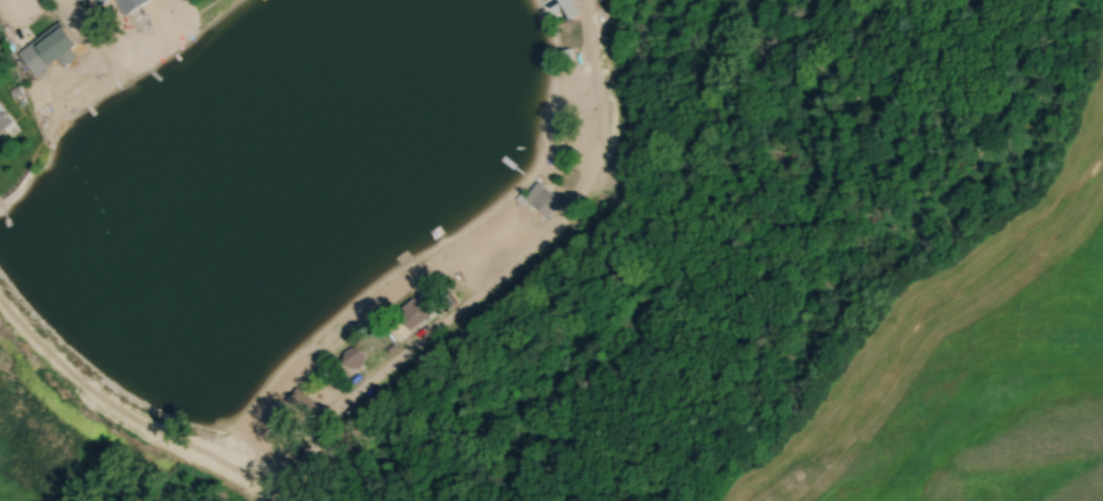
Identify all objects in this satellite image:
building: (134, 6)
building: (564, 10)
building: (0, 24)
building: (54, 53)
building: (6, 120)
building: (542, 200)
building: (472, 269)
road: (502, 274)
building: (415, 313)
building: (355, 358)
road: (114, 406)

